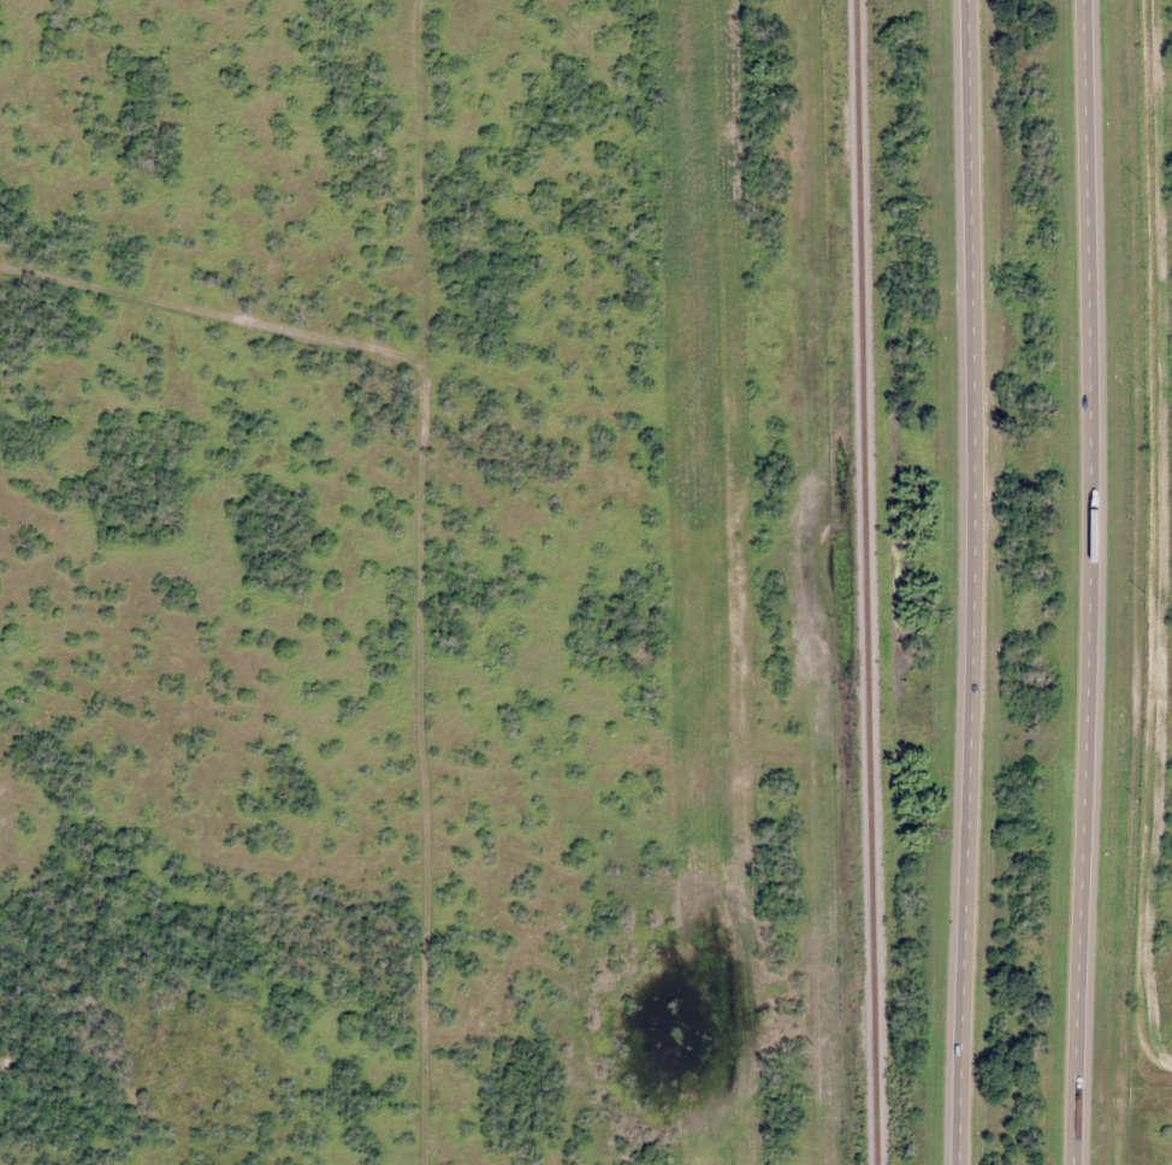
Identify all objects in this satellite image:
road: (973, 581)
road: (1096, 581)
railway: (869, 582)

